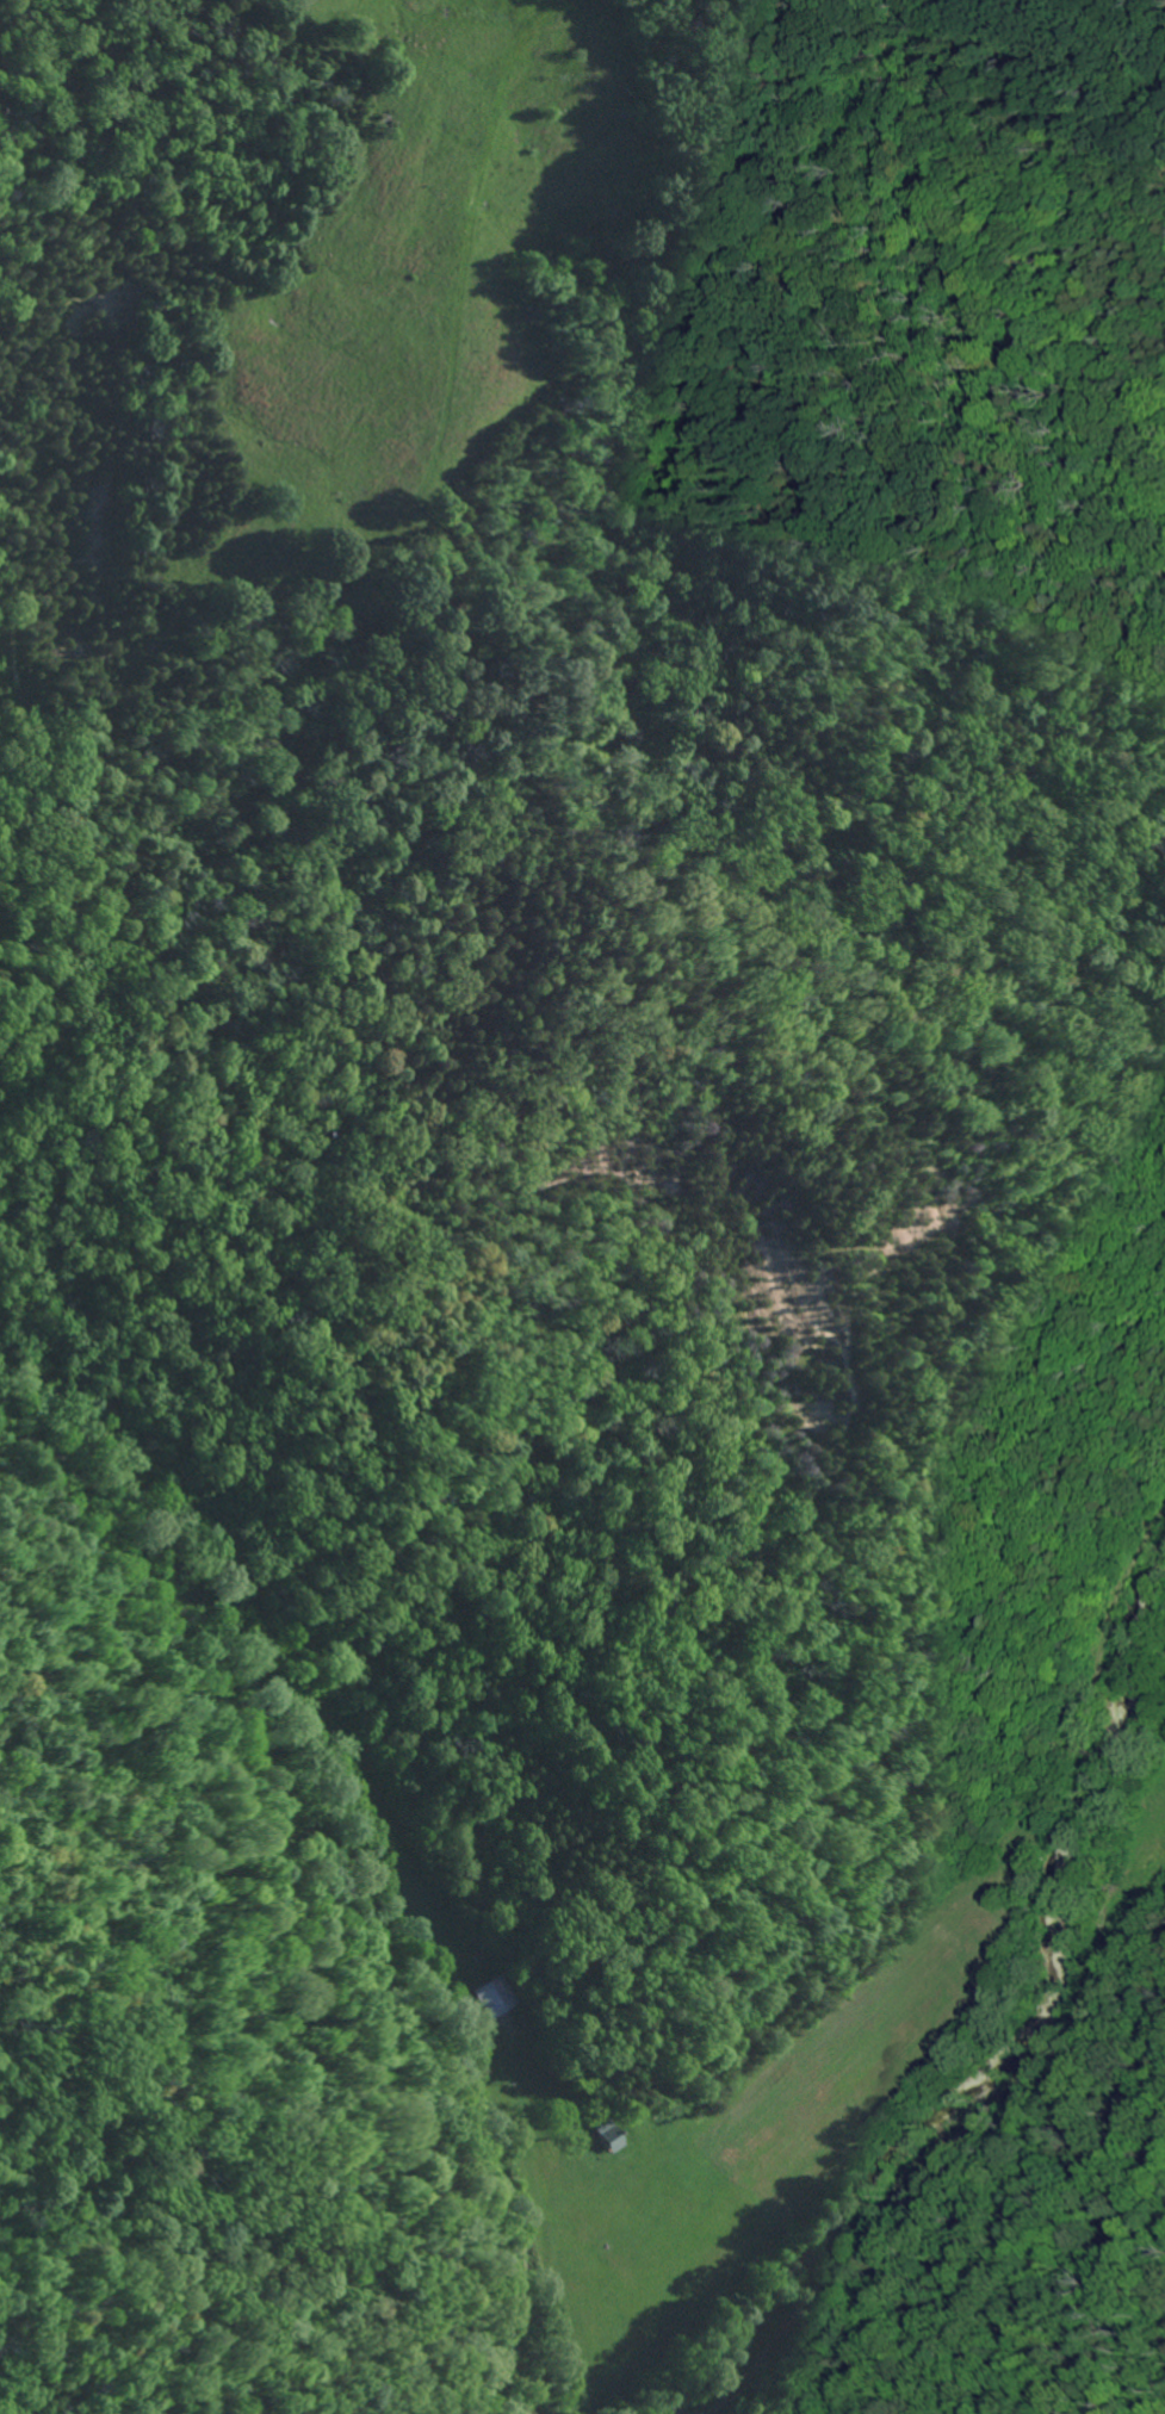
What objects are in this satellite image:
building: (483, 1999)
building: (602, 2140)

